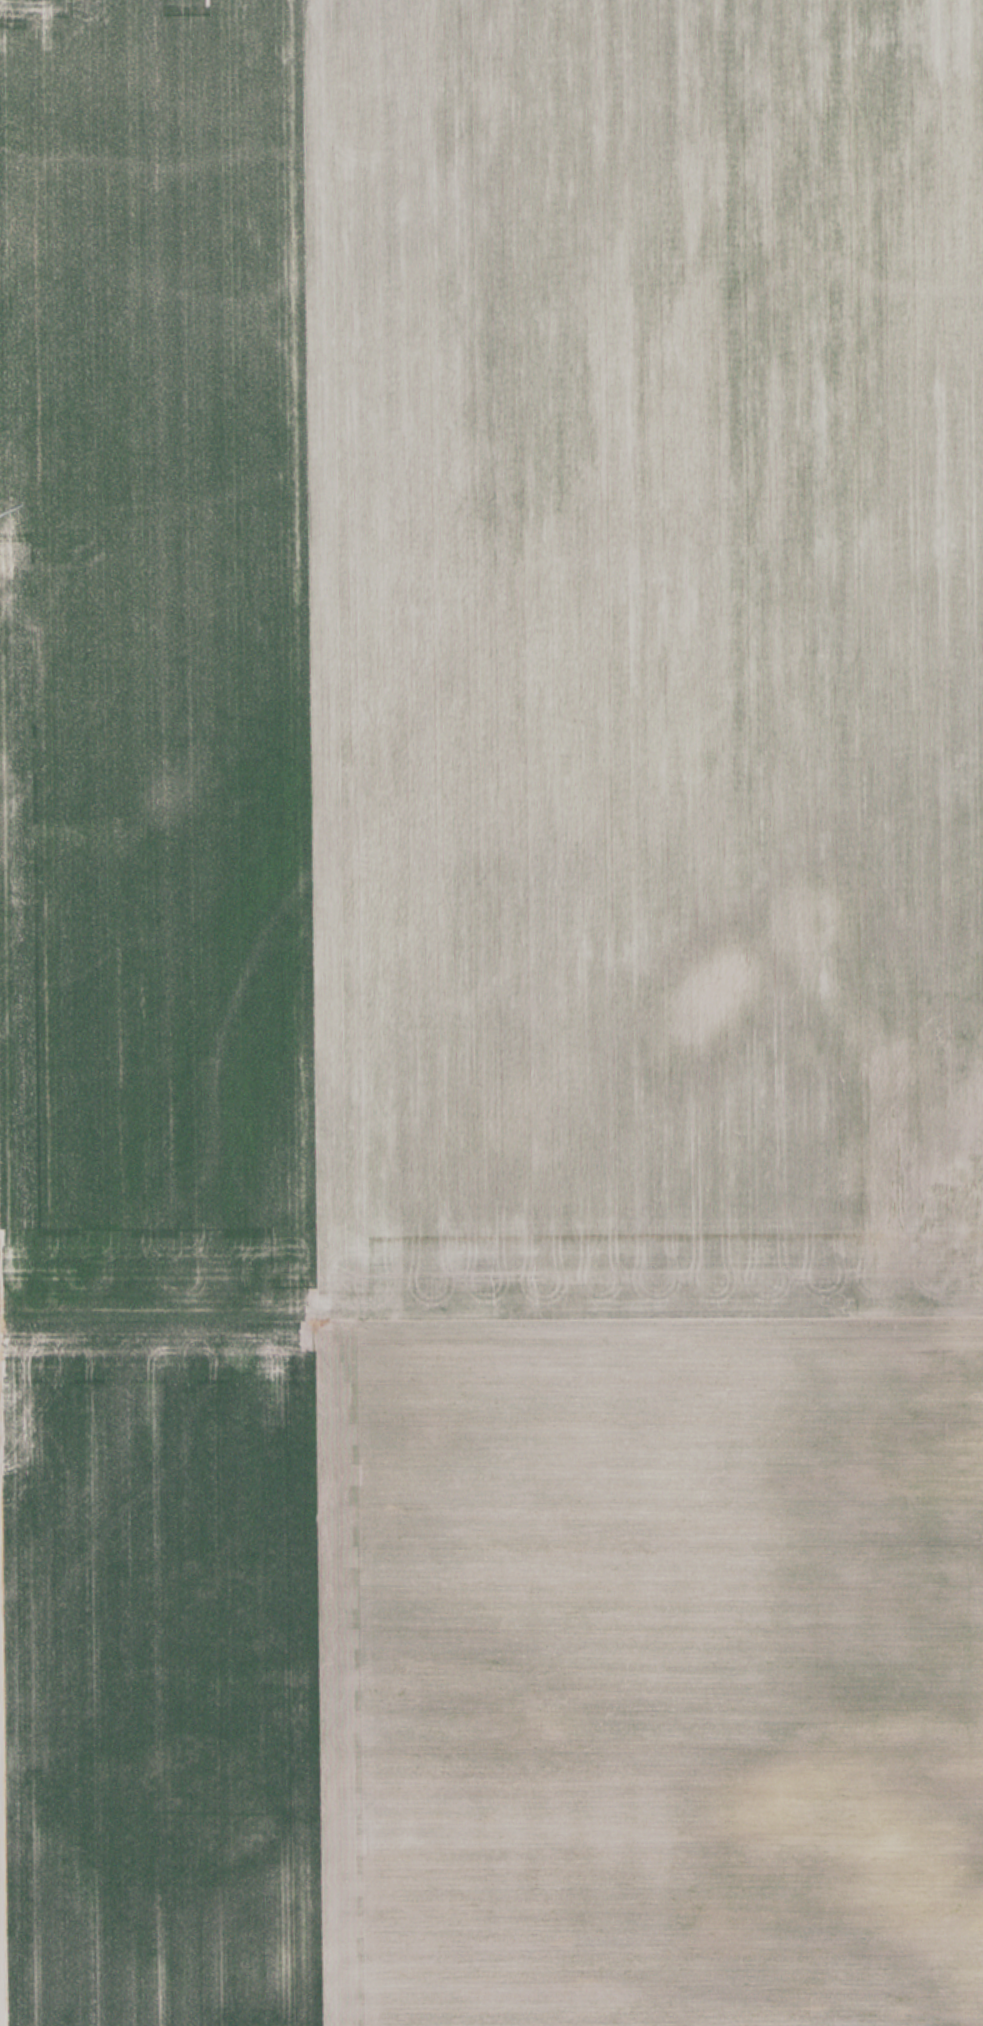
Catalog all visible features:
road: (2, 1817)

